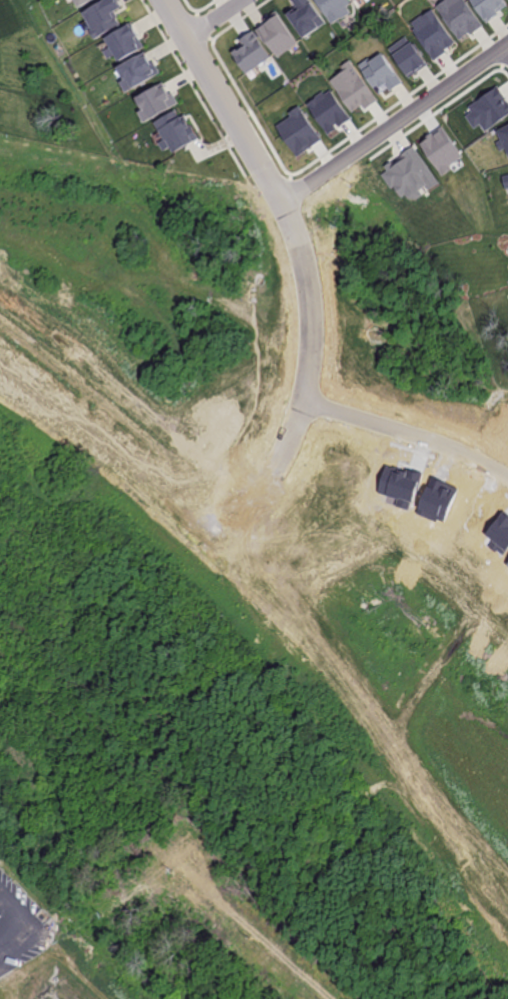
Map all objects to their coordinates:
building: (355, 0)
building: (83, 2)
building: (489, 8)
building: (332, 9)
building: (102, 17)
building: (305, 17)
building: (458, 17)
road: (213, 18)
building: (434, 34)
building: (277, 35)
building: (123, 42)
road: (506, 51)
building: (250, 52)
building: (408, 57)
building: (137, 72)
building: (380, 74)
building: (354, 88)
building: (154, 102)
building: (489, 109)
building: (329, 111)
road: (394, 126)
building: (176, 132)
building: (297, 133)
building: (504, 135)
building: (441, 151)
building: (411, 177)
building: (504, 181)
road: (272, 194)
road: (407, 439)
park: (193, 642)
road: (336, 715)
road: (17, 924)

